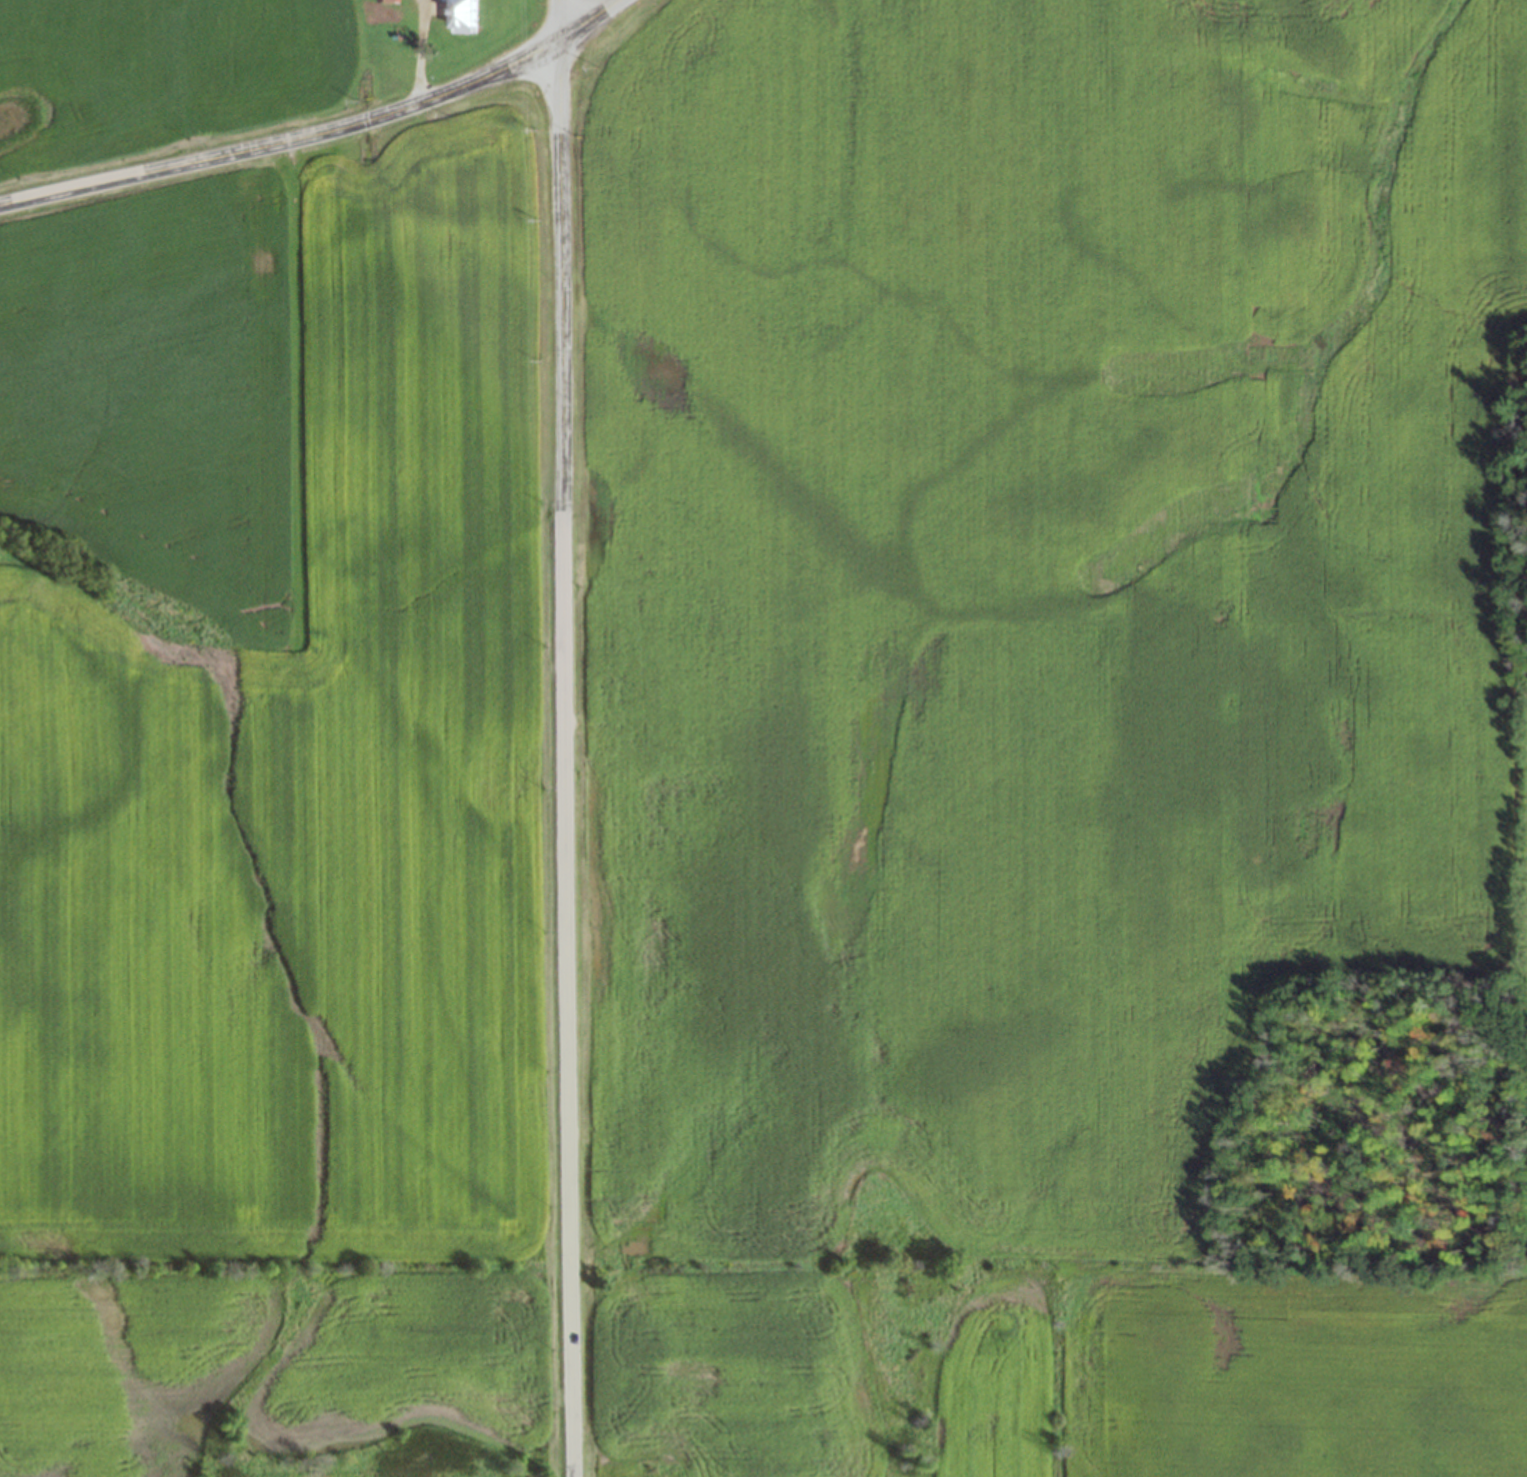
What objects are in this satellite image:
building: (394, 1)
building: (471, 16)
road: (558, 16)
road: (587, 16)
road: (287, 140)
road: (566, 754)

